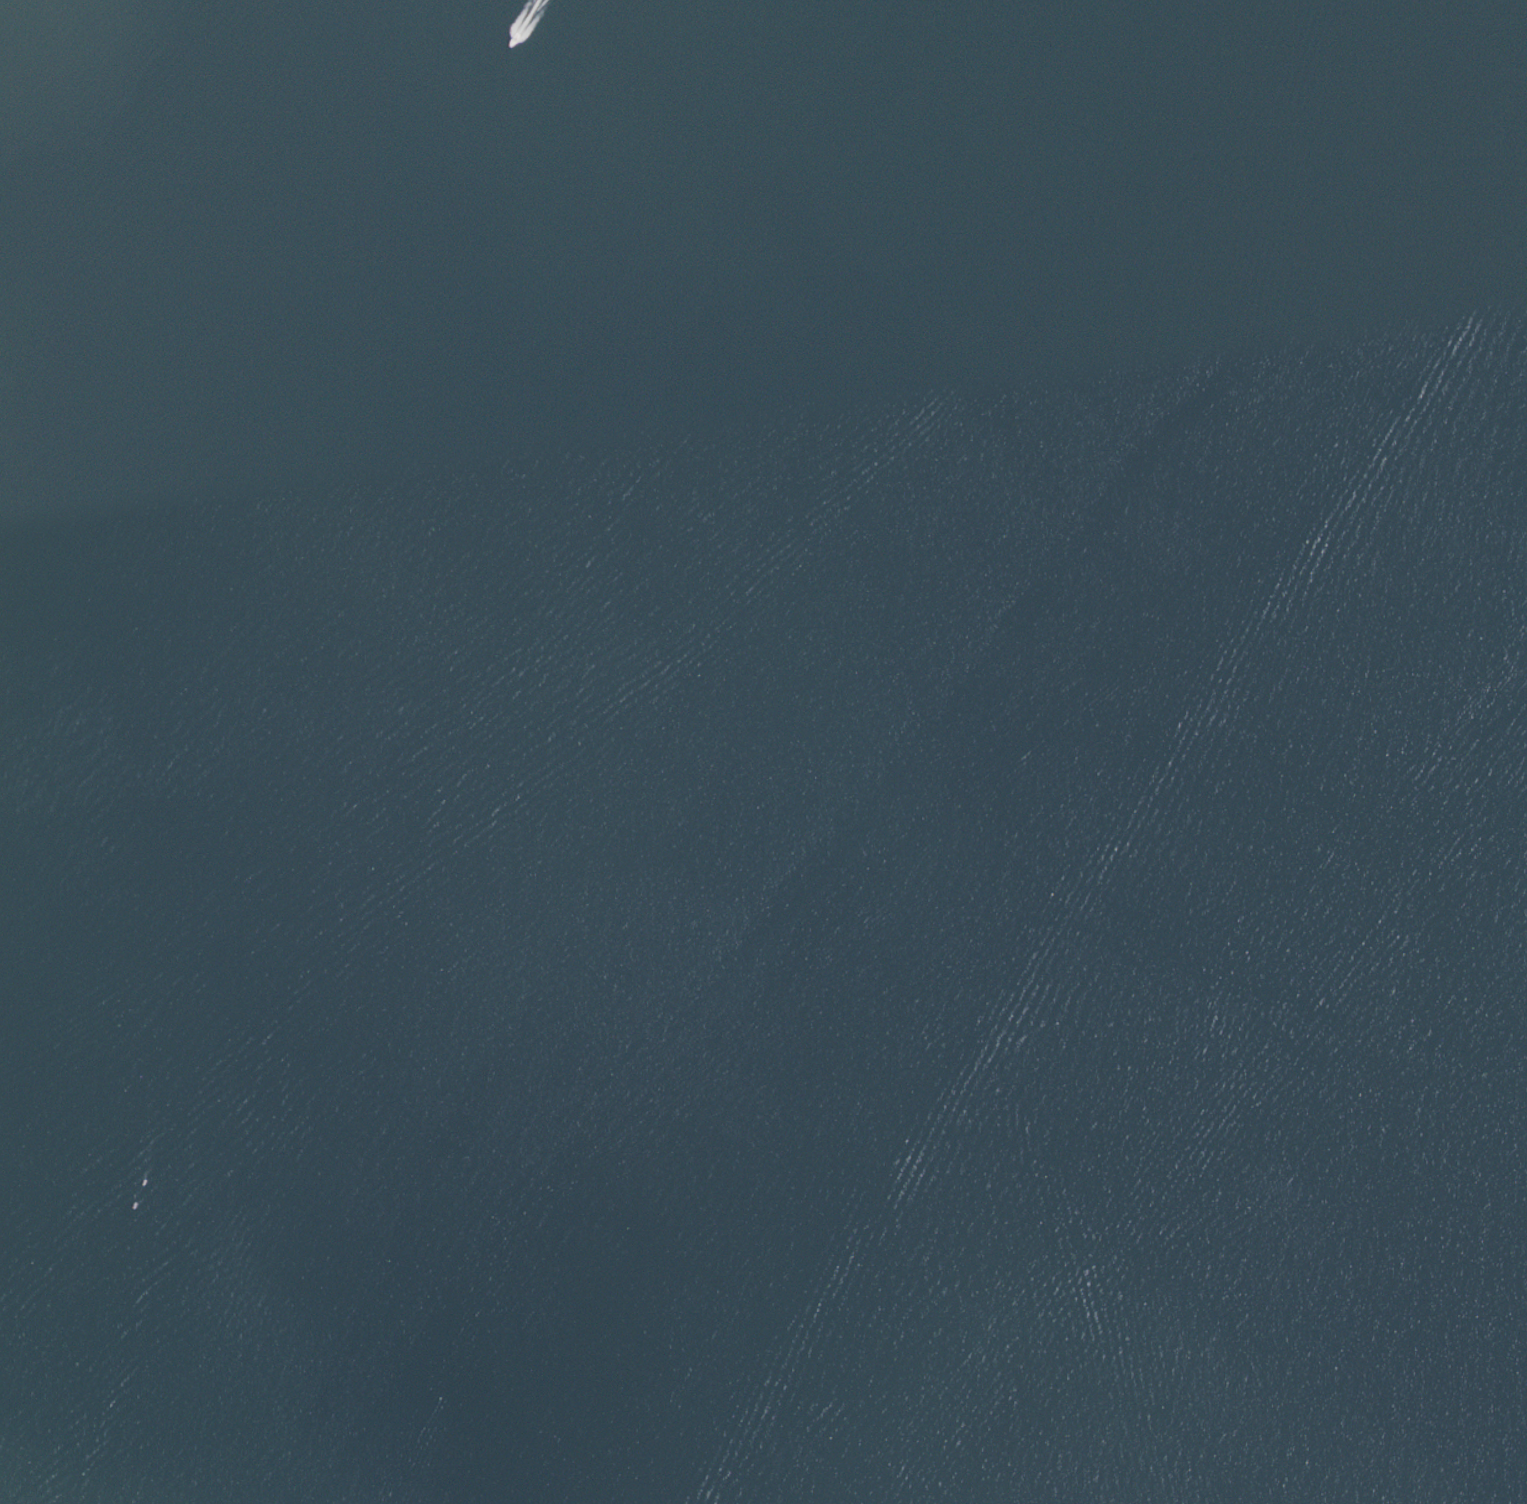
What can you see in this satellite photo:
river: (1410, 1026)

